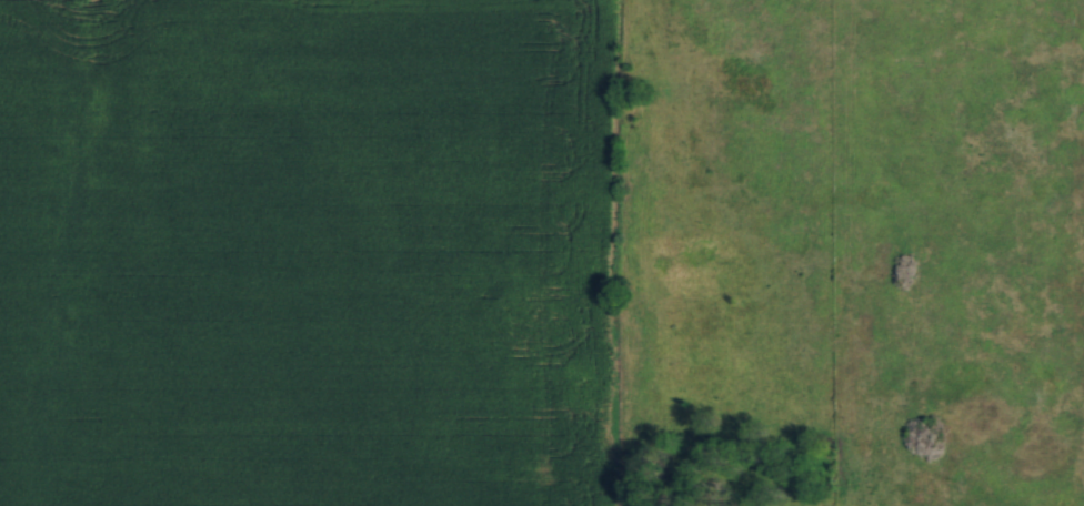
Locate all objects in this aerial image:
airport: (422, 253)

